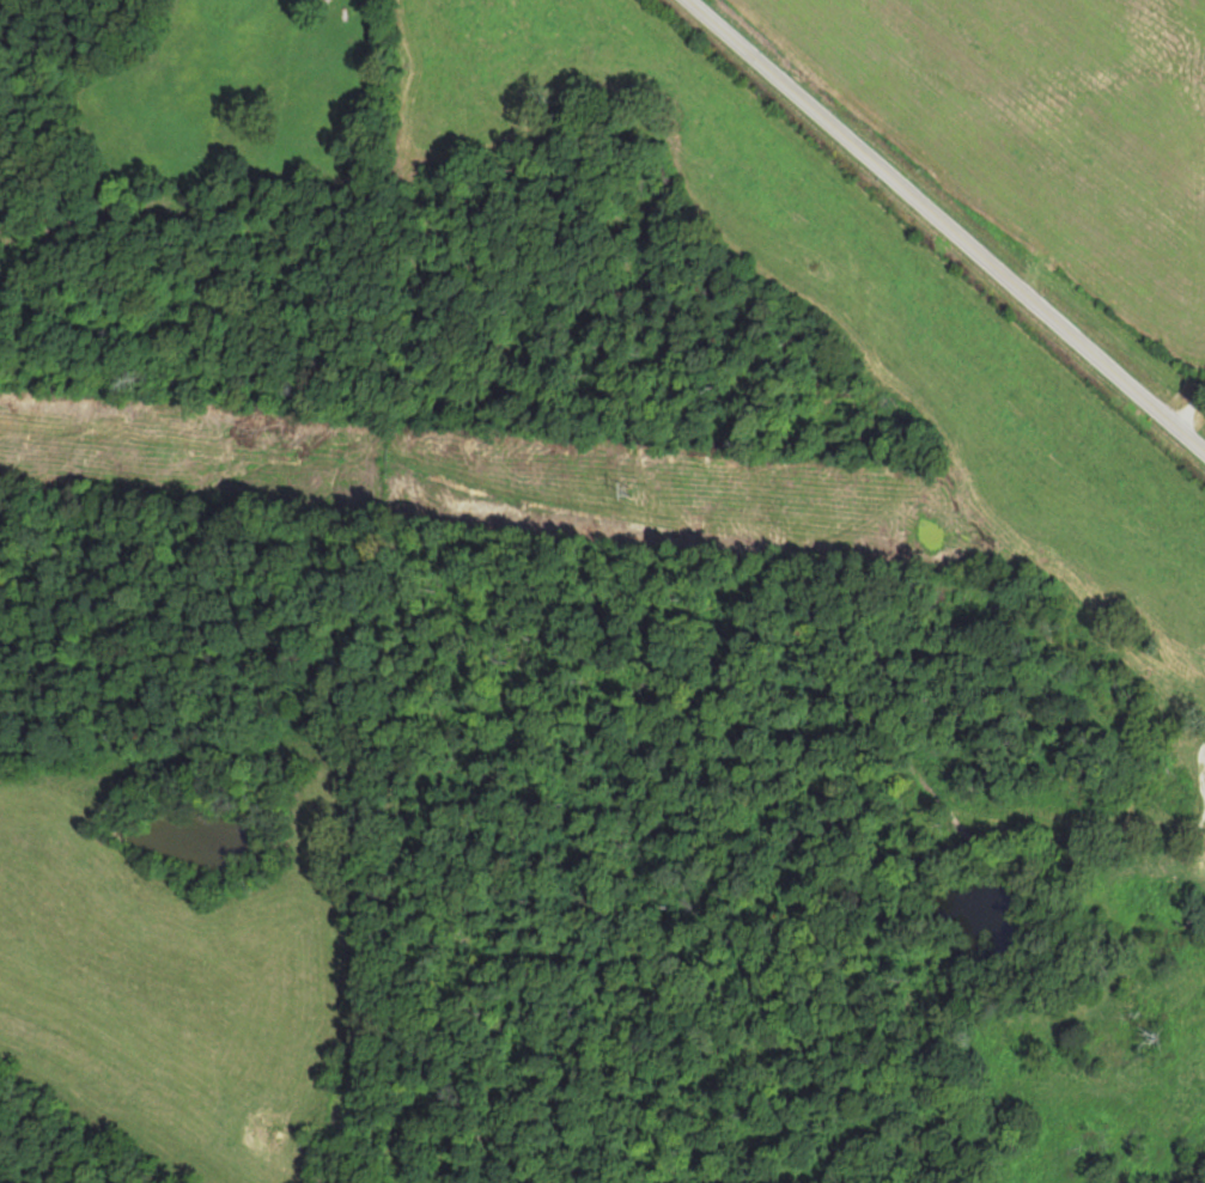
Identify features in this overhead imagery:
road: (947, 226)
road: (1188, 410)

